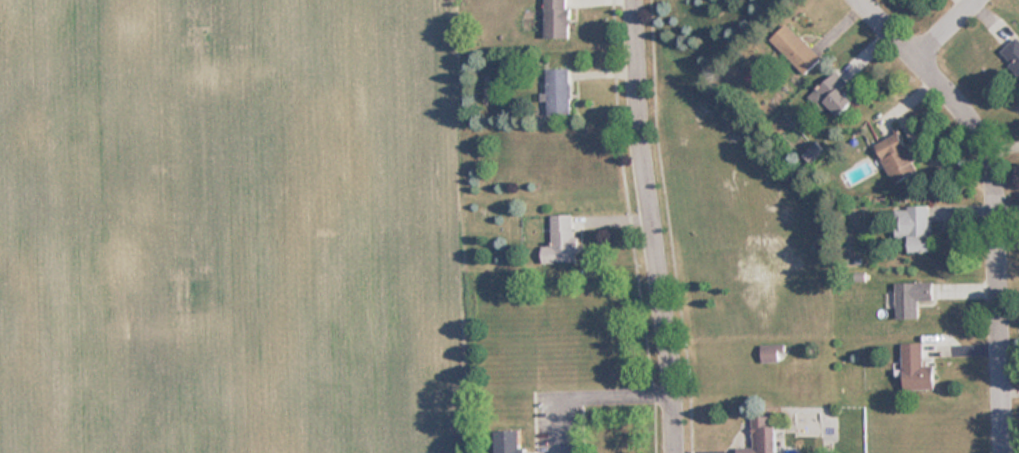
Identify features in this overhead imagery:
building: (556, 19)
road: (949, 28)
building: (794, 49)
building: (1011, 56)
building: (558, 92)
building: (832, 97)
building: (896, 158)
road: (997, 203)
road: (650, 226)
building: (914, 227)
building: (560, 240)
building: (911, 298)
building: (772, 352)
building: (916, 368)
road: (591, 396)
building: (761, 436)
building: (508, 441)

